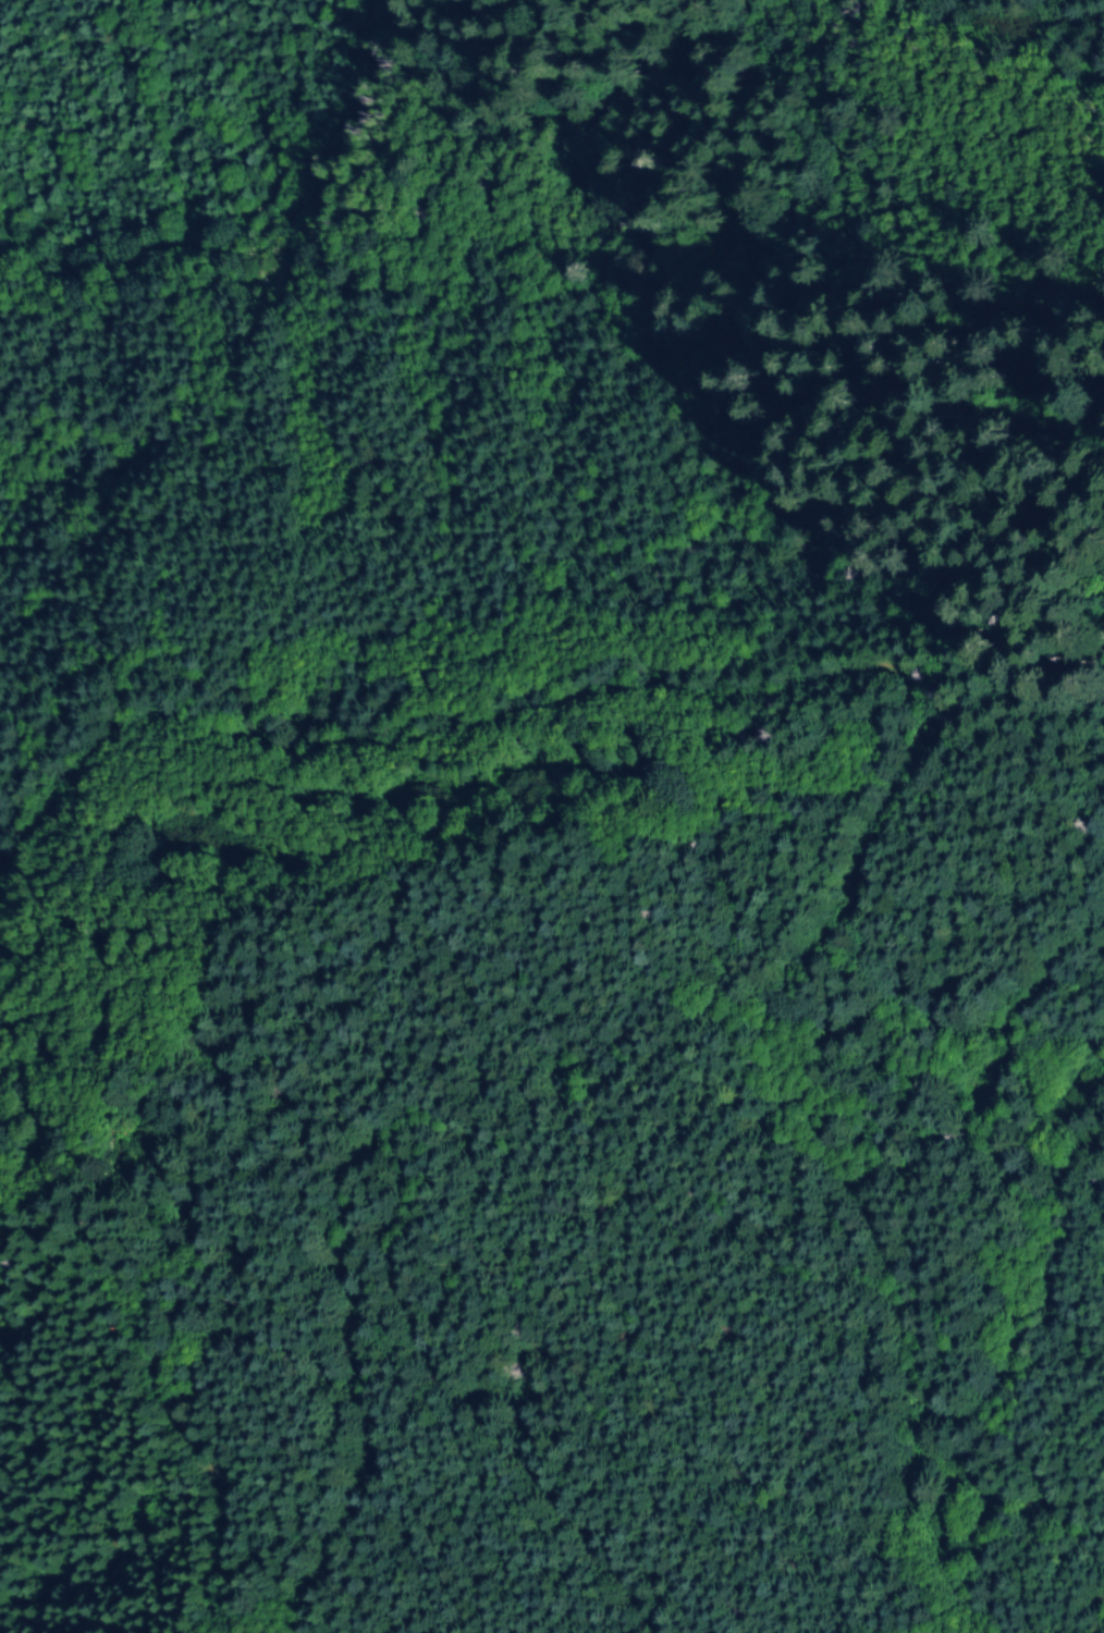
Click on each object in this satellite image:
road: (720, 700)
road: (977, 1055)
road: (1003, 1359)
road: (474, 1422)
road: (912, 1439)

